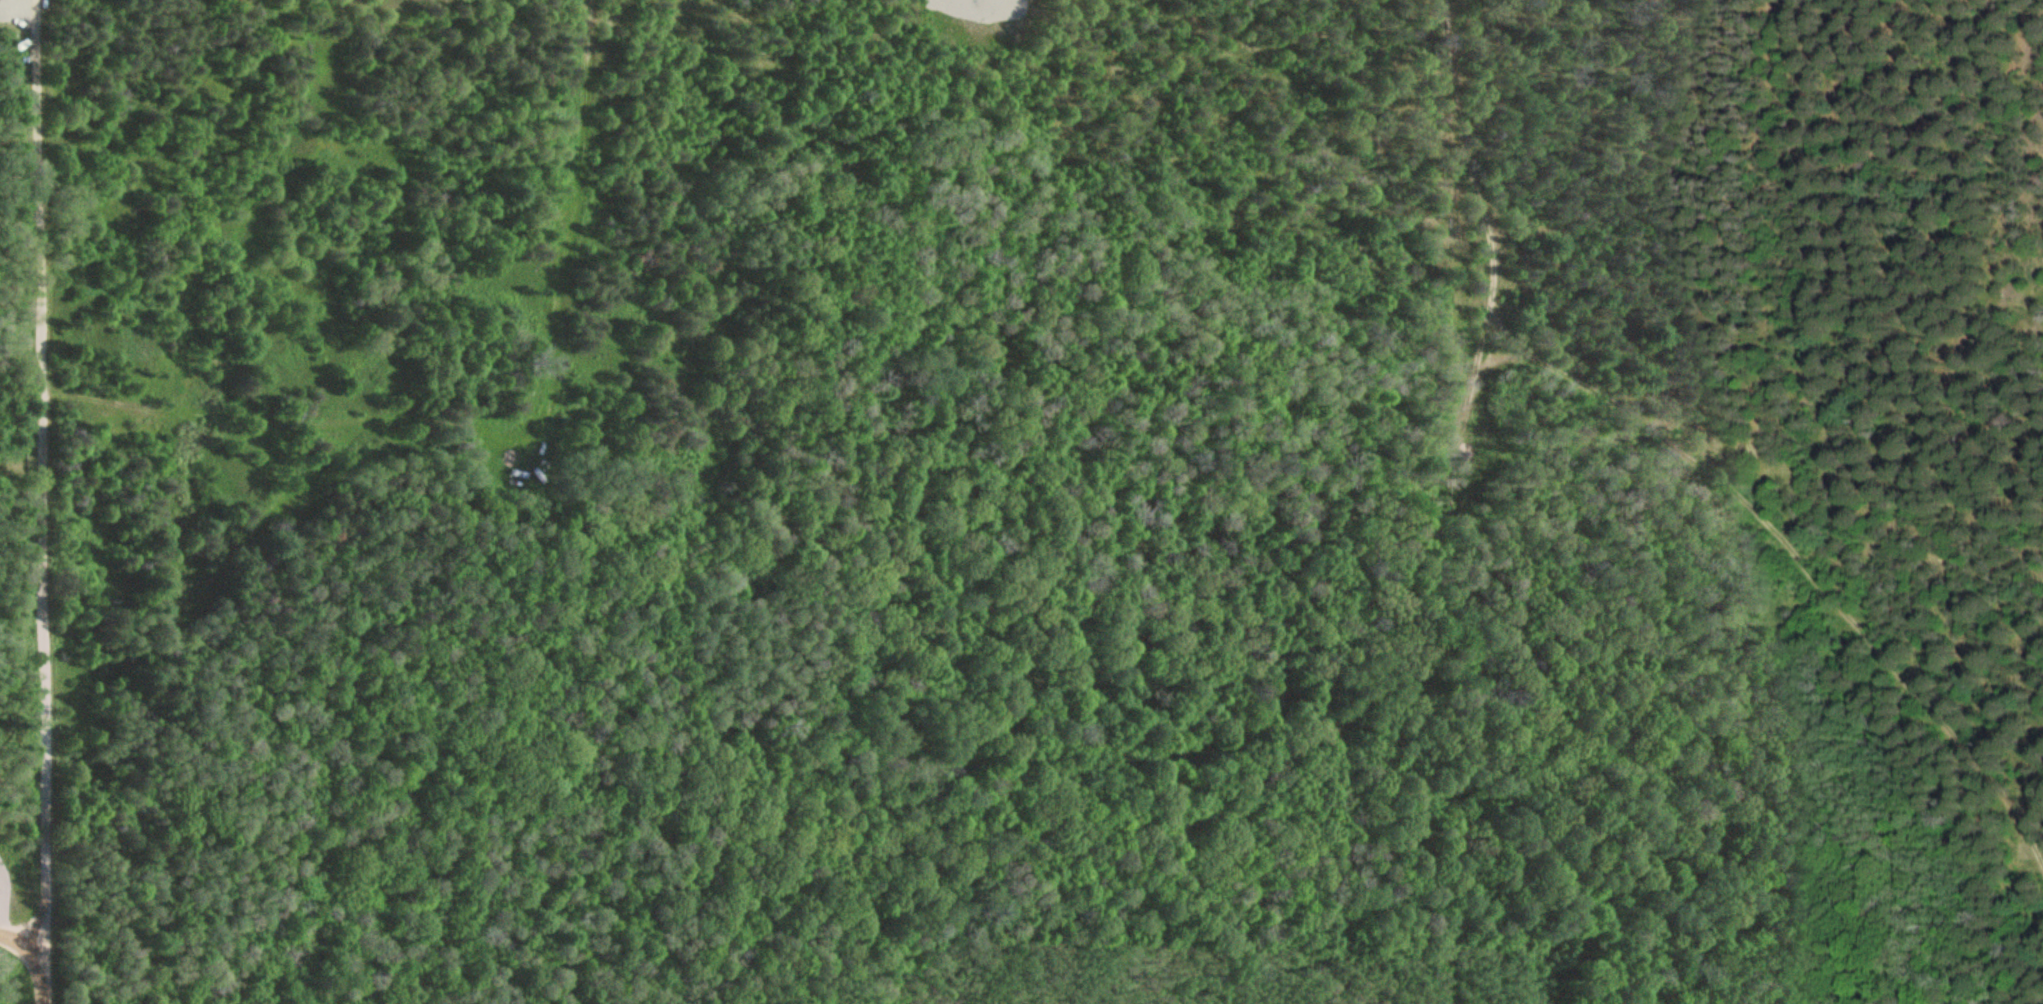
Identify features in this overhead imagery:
road: (515, 445)
road: (1446, 496)
road: (44, 502)
road: (1800, 555)
road: (21, 935)

